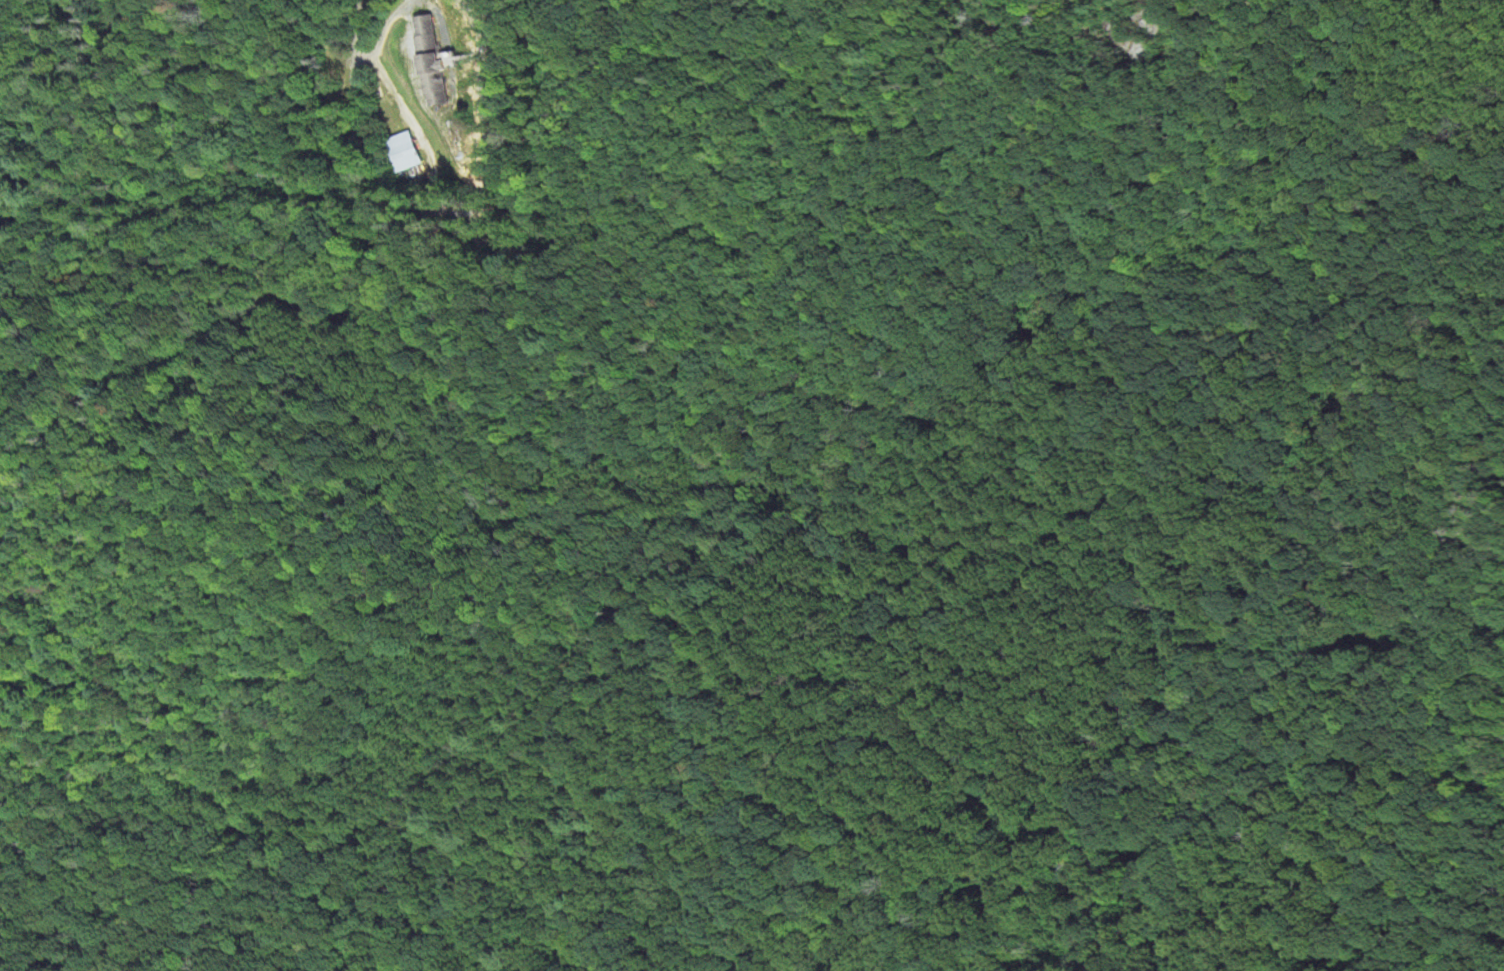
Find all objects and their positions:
road: (386, 26)
building: (432, 63)
road: (476, 125)
building: (402, 153)
road: (426, 156)
road: (276, 305)

